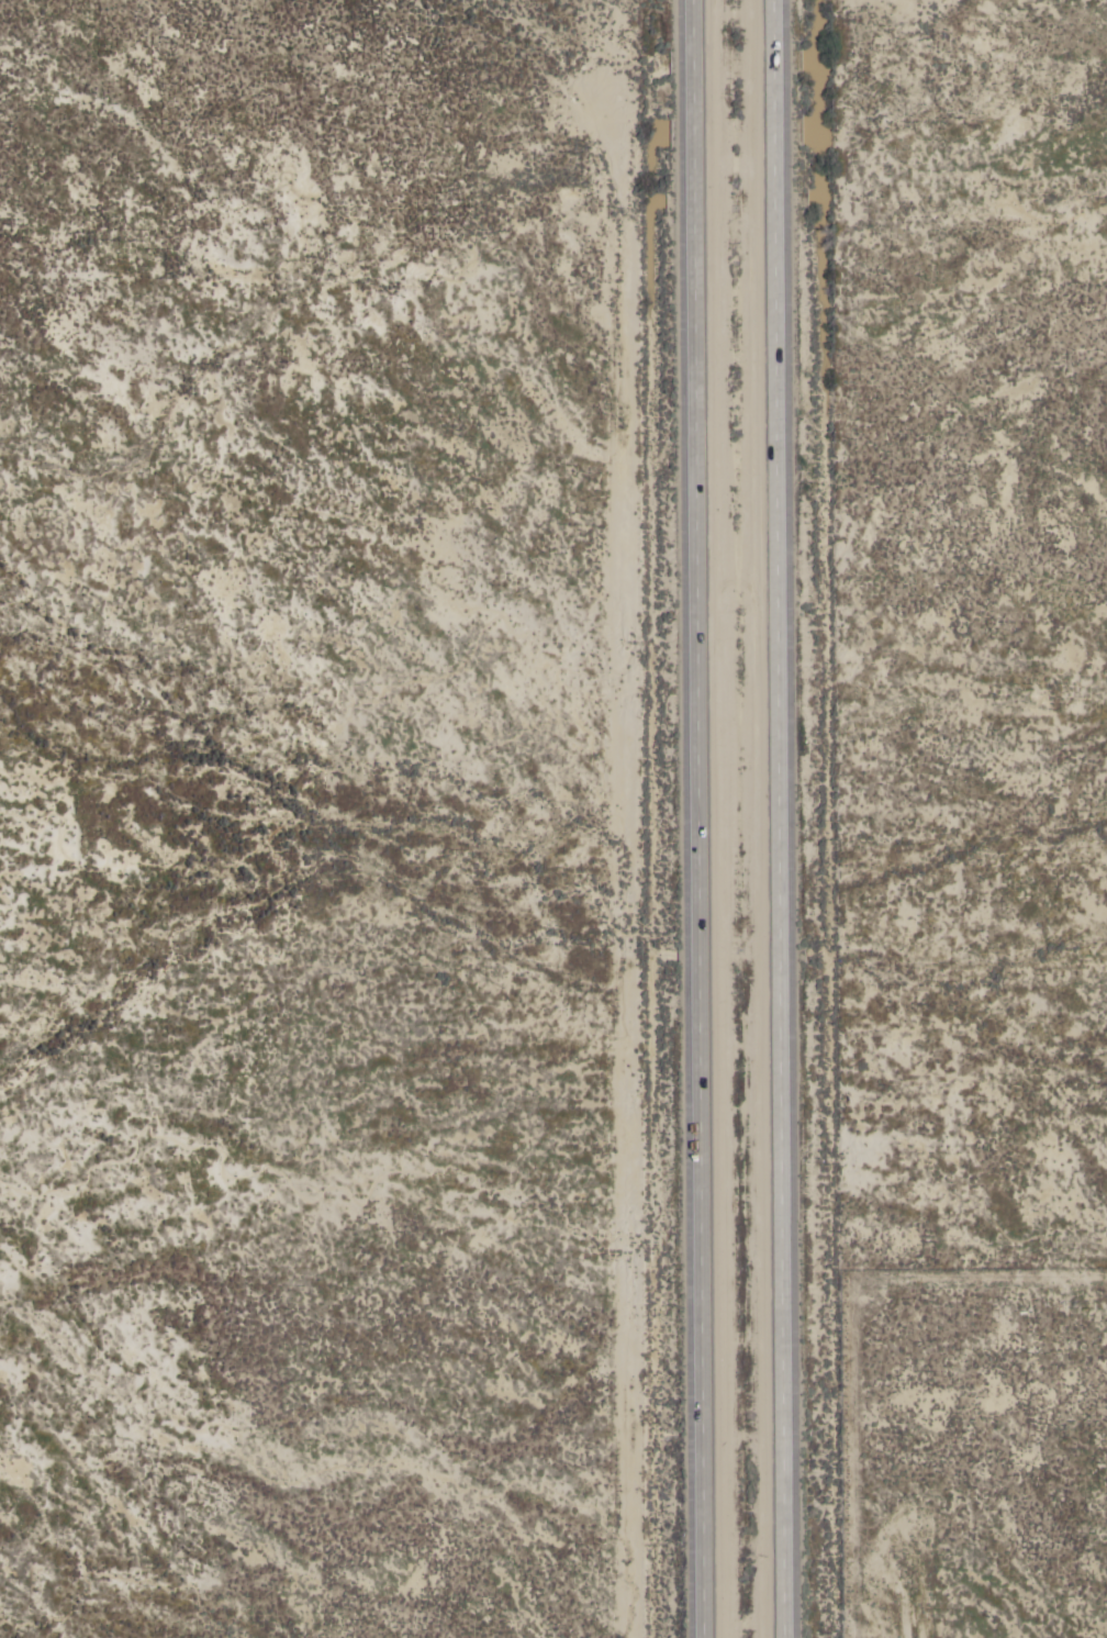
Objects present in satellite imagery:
road: (697, 818)
road: (778, 818)
wastewater plant: (971, 1452)

